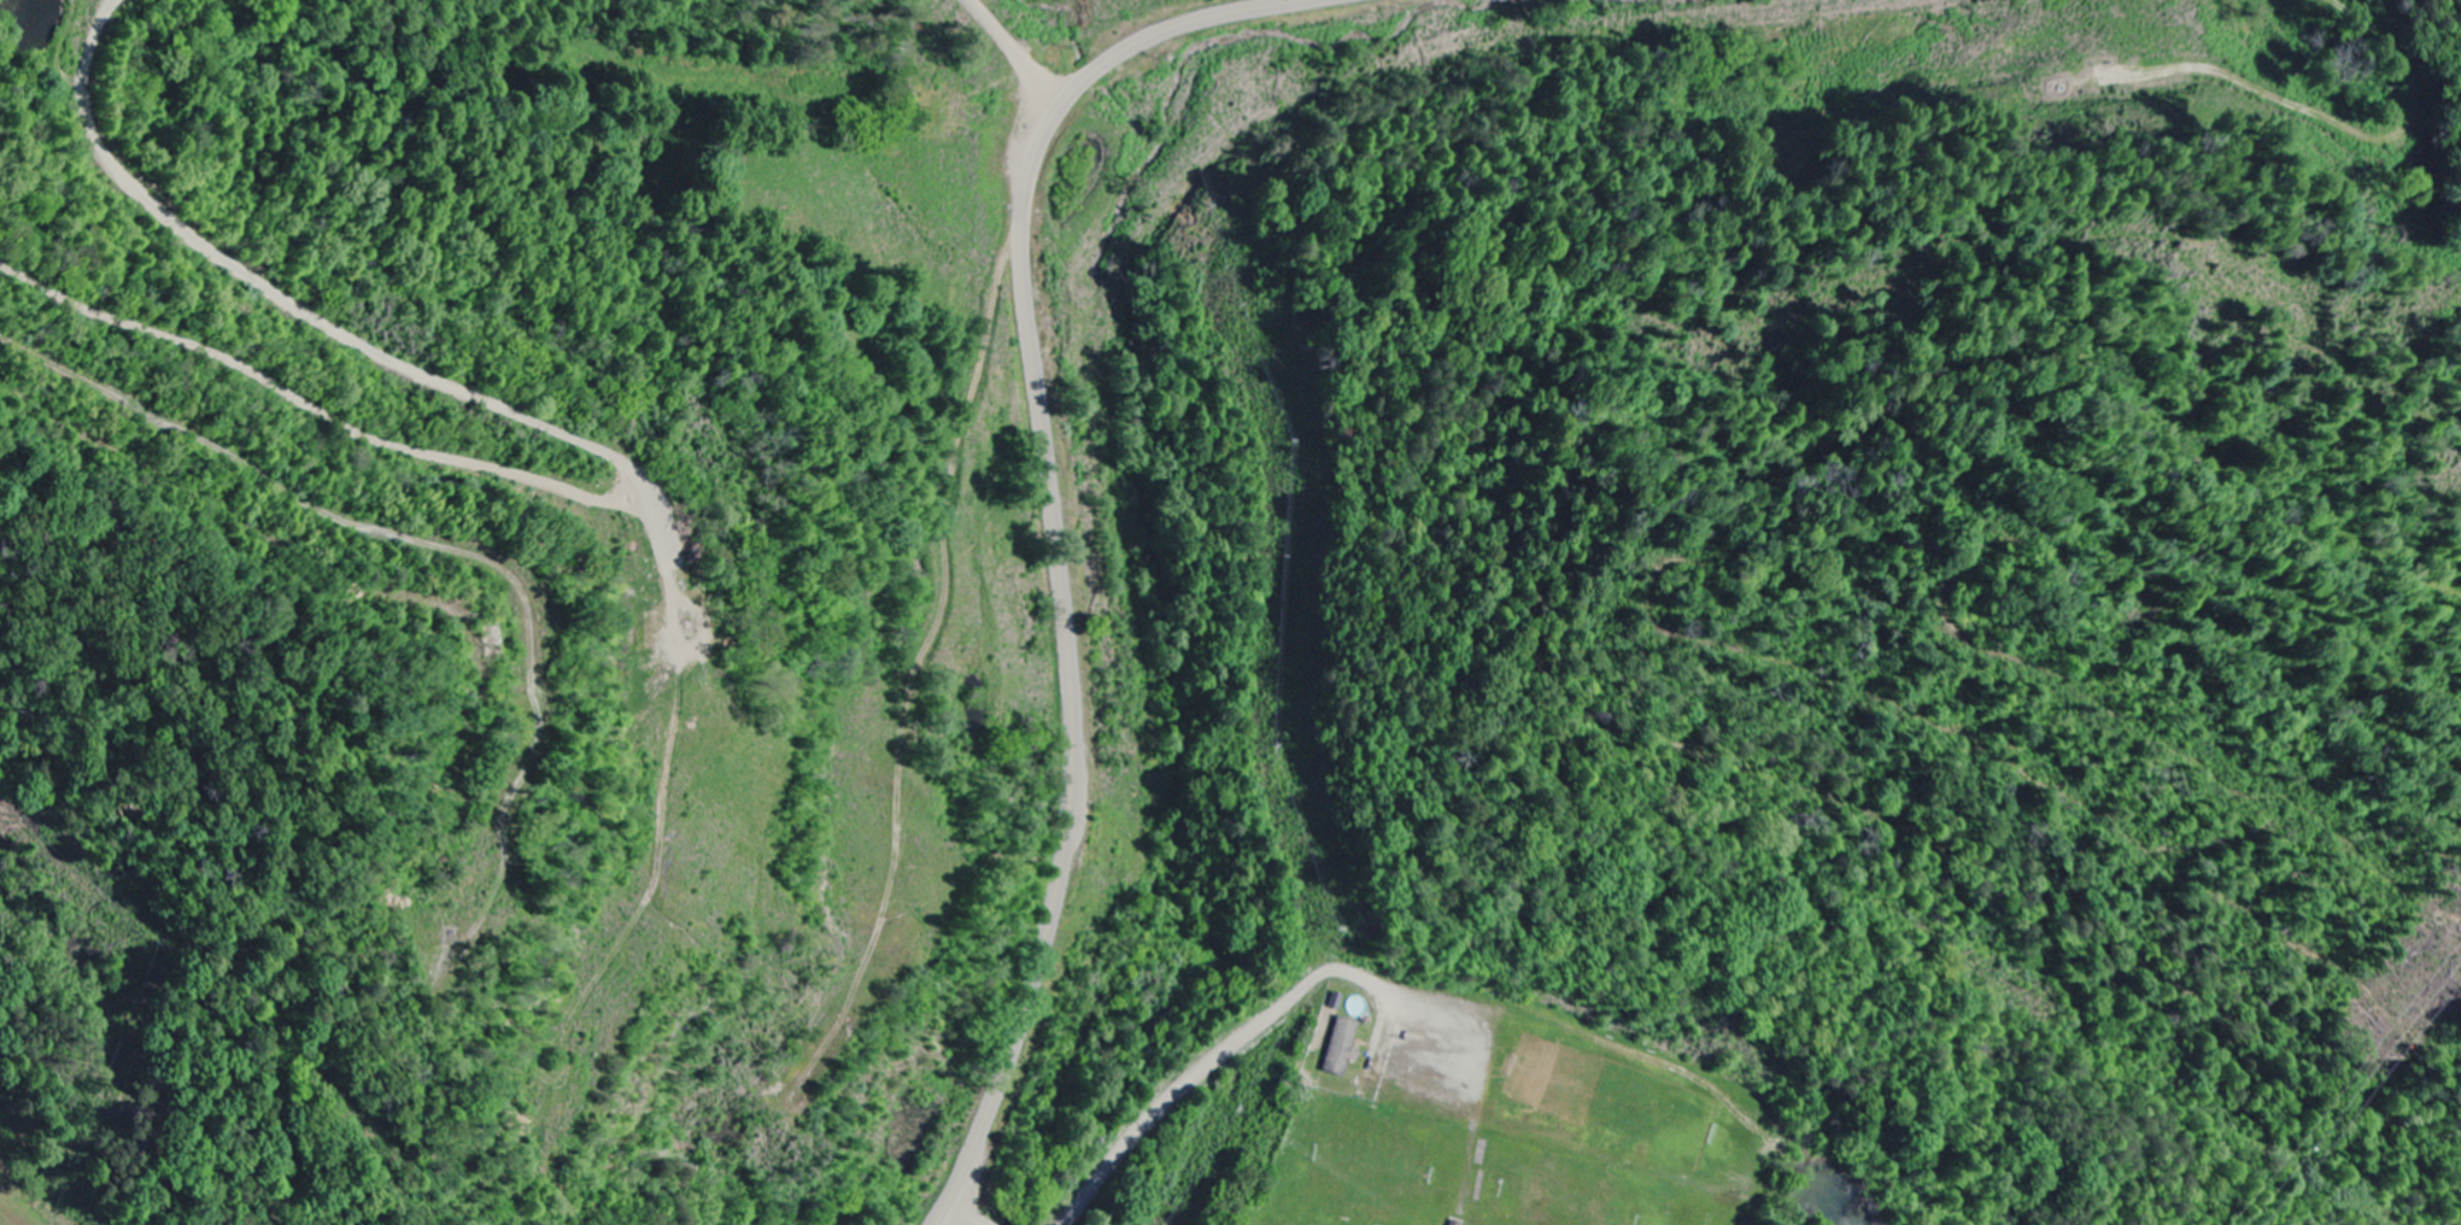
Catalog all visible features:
road: (1056, 537)
building: (1343, 1048)

